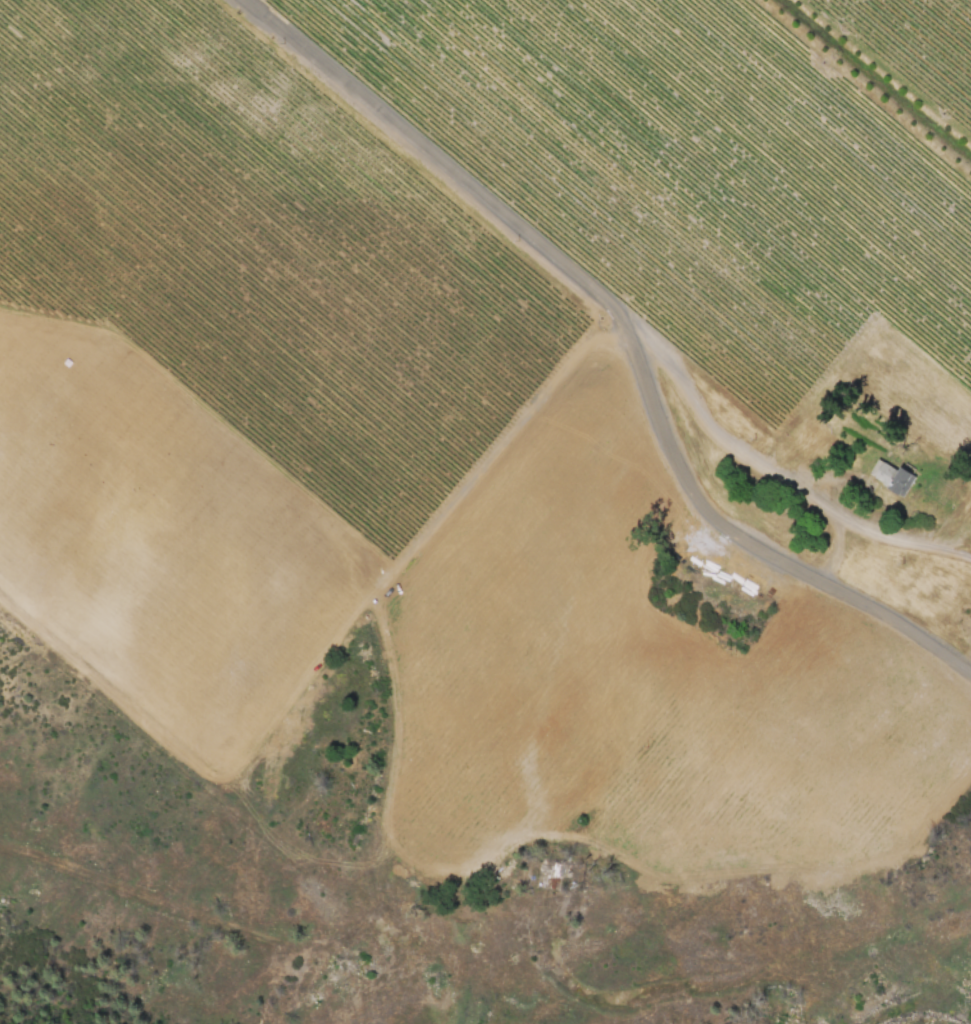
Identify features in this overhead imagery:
road: (631, 334)
road: (718, 431)
building: (884, 477)

